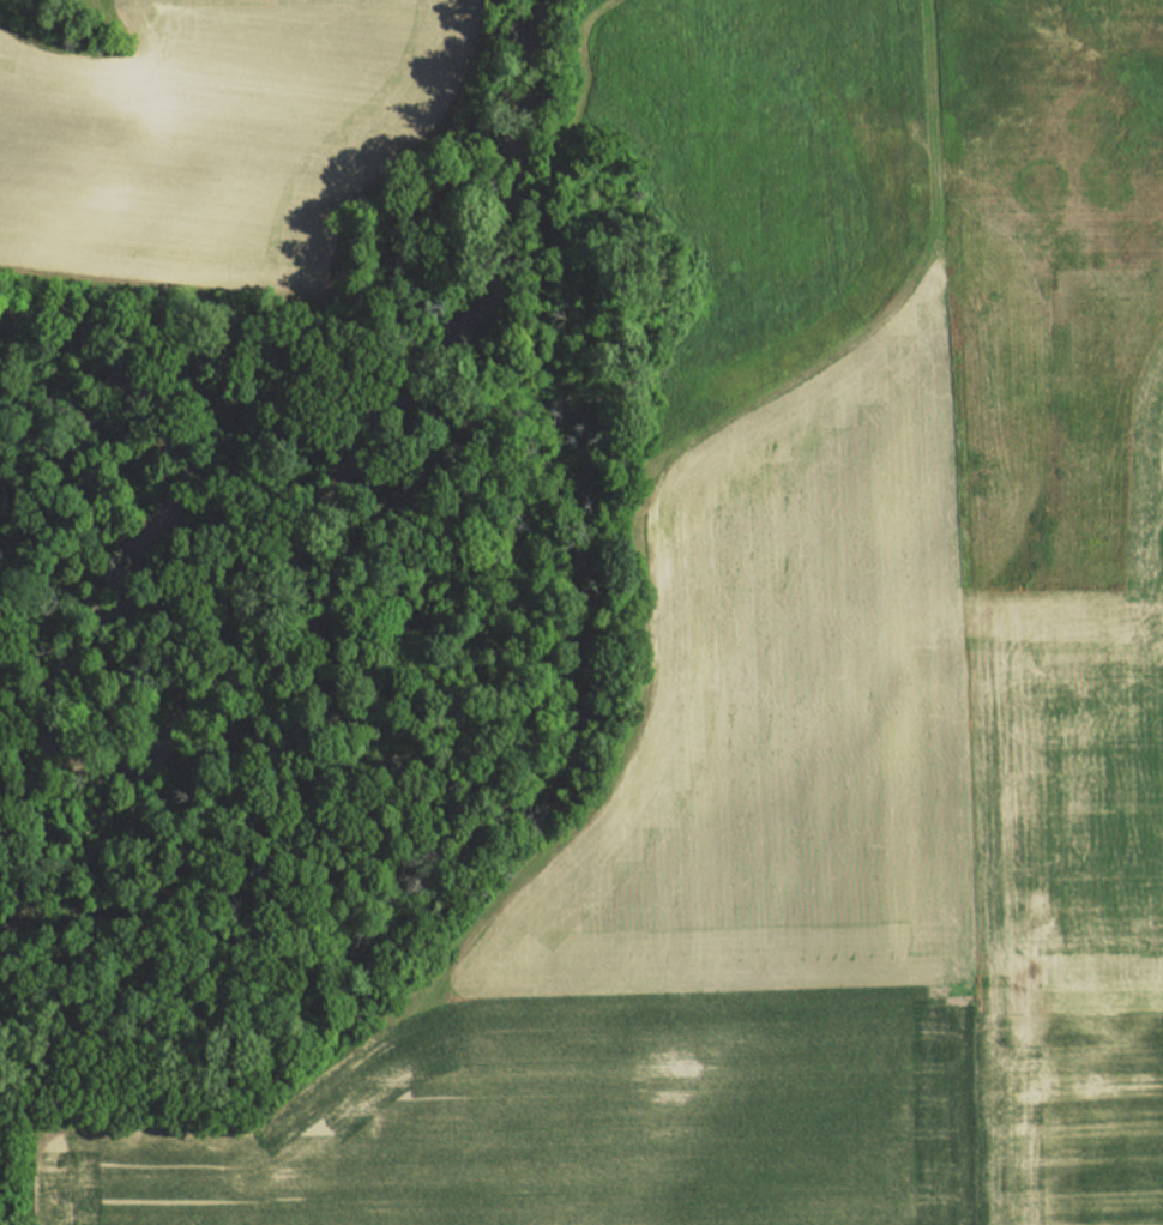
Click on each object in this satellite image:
crop: (788, 882)

